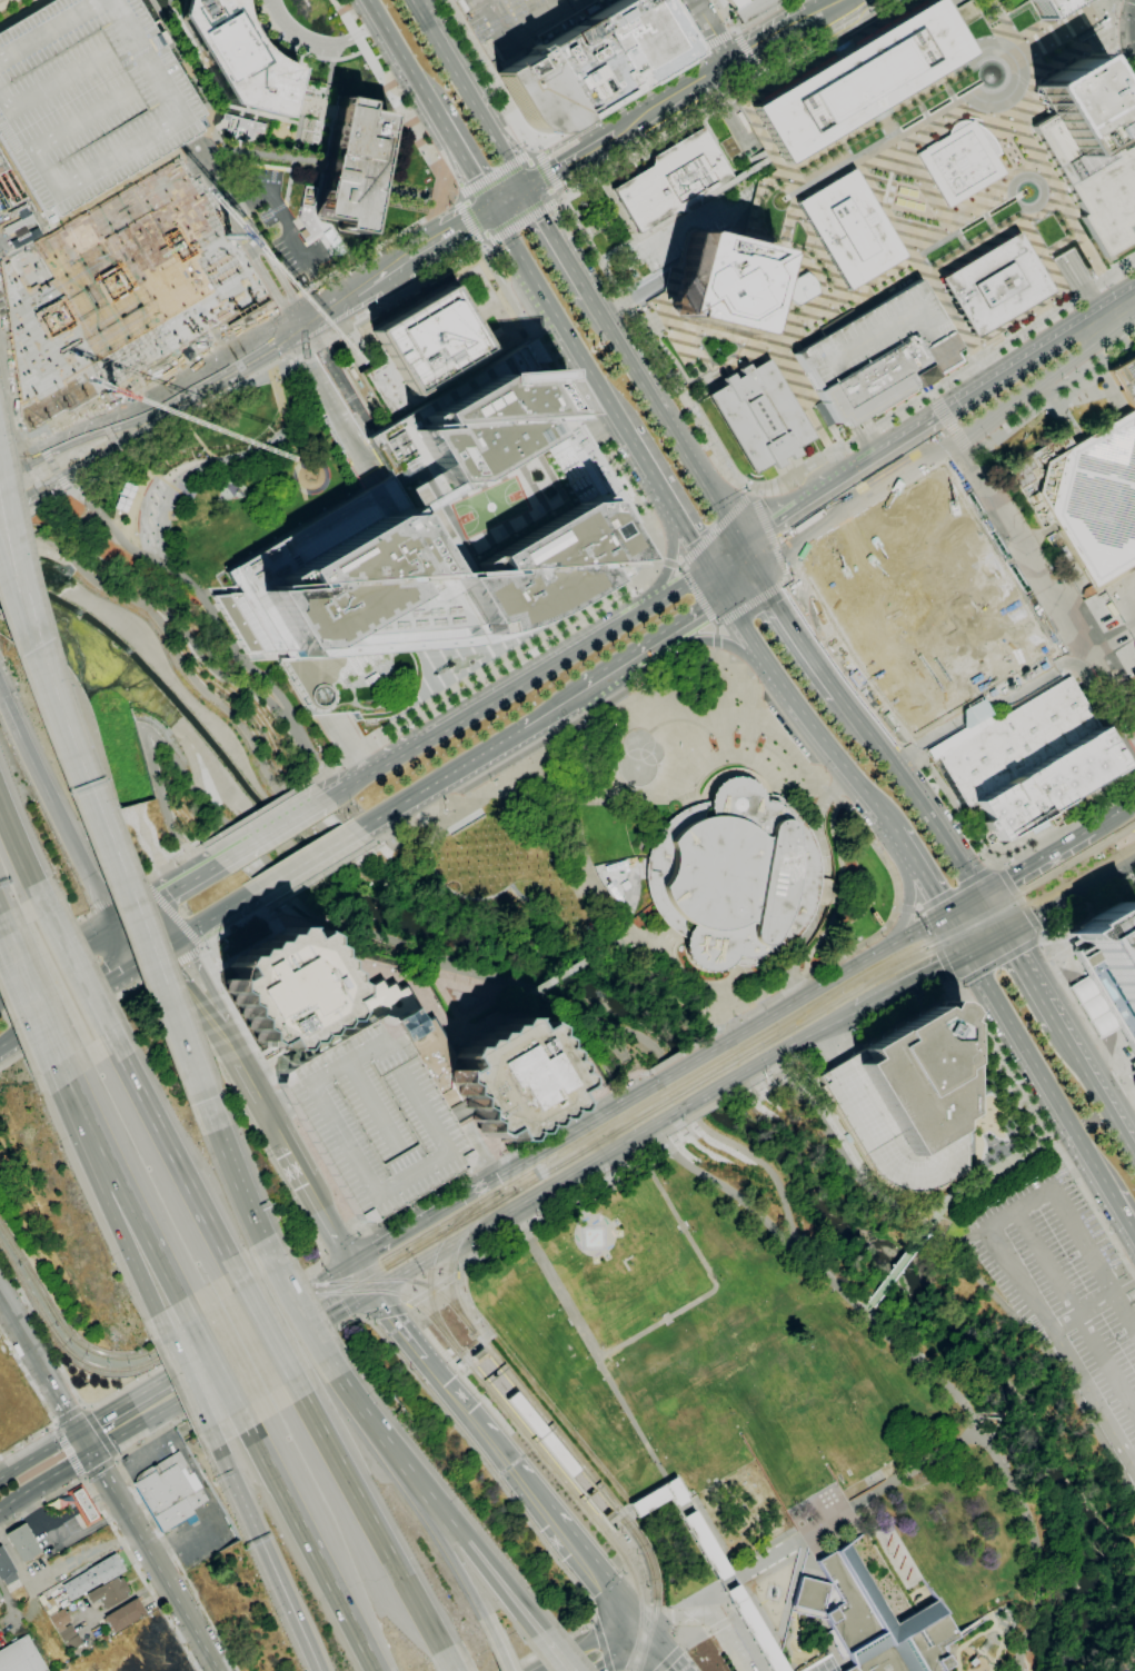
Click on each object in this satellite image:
road: (1134, 0)
road: (963, 1)
building: (736, 3)
building: (1047, 7)
building: (753, 9)
road: (826, 9)
road: (745, 22)
road: (687, 23)
parking lot: (524, 24)
road: (524, 28)
road: (258, 29)
road: (735, 30)
road: (715, 31)
road: (719, 39)
road: (773, 40)
road: (319, 41)
road: (1066, 43)
road: (1117, 44)
road: (704, 47)
road: (1115, 50)
road: (298, 51)
road: (748, 51)
building: (238, 56)
road: (401, 57)
building: (594, 63)
road: (1059, 71)
road: (765, 76)
road: (709, 77)
building: (860, 80)
road: (216, 84)
road: (474, 92)
road: (394, 97)
building: (88, 98)
parking garage: (88, 98)
road: (648, 113)
building: (250, 127)
road: (299, 127)
road: (549, 137)
road: (532, 141)
road: (1134, 143)
building: (1092, 151)
road: (203, 152)
road: (273, 155)
road: (569, 159)
road: (465, 160)
building: (959, 163)
building: (351, 165)
road: (545, 172)
road: (494, 173)
building: (671, 180)
traffic signals: (528, 186)
road: (410, 190)
road: (451, 196)
road: (510, 197)
road: (561, 198)
traffic signals: (492, 209)
road: (283, 212)
road: (468, 221)
road: (522, 221)
building: (308, 222)
road: (250, 227)
road: (421, 227)
building: (849, 229)
road: (451, 233)
road: (558, 239)
road: (469, 246)
road: (484, 248)
building: (720, 284)
building: (994, 285)
road: (359, 287)
building: (800, 289)
road: (556, 322)
flagpole: (497, 331)
road: (230, 337)
building: (424, 355)
building: (879, 356)
road: (1098, 357)
road: (228, 364)
road: (558, 368)
road: (668, 372)
road: (341, 375)
building: (1125, 380)
building: (758, 415)
road: (667, 418)
road: (96, 427)
road: (23, 434)
road: (39, 439)
road: (108, 448)
road: (2, 455)
road: (22, 462)
road: (54, 464)
road: (220, 467)
road: (781, 475)
park: (216, 486)
road: (71, 488)
road: (753, 490)
road: (39, 493)
road: (627, 496)
building: (126, 497)
road: (665, 500)
road: (47, 504)
road: (766, 505)
park: (482, 507)
road: (8, 511)
building: (1088, 524)
road: (11, 525)
road: (767, 526)
road: (10, 529)
road: (716, 529)
road: (766, 529)
building: (427, 543)
traffic signals: (744, 544)
road: (128, 547)
road: (14, 551)
road: (674, 555)
road: (658, 563)
road: (79, 564)
road: (670, 565)
traffic signals: (706, 568)
road: (771, 568)
road: (784, 570)
traffic signals: (764, 578)
road: (744, 589)
road: (698, 596)
building: (927, 596)
road: (14, 598)
traffic signals: (725, 601)
road: (753, 603)
road: (790, 619)
road: (690, 623)
road: (717, 636)
road: (717, 641)
road: (716, 649)
road: (567, 654)
road: (643, 654)
road: (247, 665)
road: (1081, 670)
road: (607, 676)
building: (1134, 676)
road: (246, 686)
road: (1, 694)
traffic signals: (2, 697)
road: (53, 703)
road: (793, 704)
road: (557, 707)
road: (975, 715)
road: (96, 729)
road: (938, 735)
road: (352, 739)
road: (256, 747)
road: (399, 753)
road: (904, 754)
road: (477, 757)
building: (1029, 762)
road: (820, 764)
road: (319, 768)
road: (828, 782)
road: (345, 784)
flagpole: (953, 784)
road: (915, 790)
road: (456, 806)
road: (389, 810)
flagpole: (445, 810)
road: (57, 812)
road: (256, 814)
road: (1114, 815)
road: (286, 819)
flagpole: (485, 825)
flagpole: (474, 826)
flagpole: (495, 833)
railway: (1131, 833)
flagpole: (485, 834)
flagpole: (475, 835)
flagpole: (466, 836)
flagpole: (455, 837)
road: (896, 838)
road: (389, 841)
flagpole: (506, 842)
flagpole: (487, 844)
flagpole: (495, 844)
flagpole: (475, 845)
flagpole: (466, 846)
flagpole: (439, 847)
flagpole: (446, 847)
flagpole: (455, 847)
road: (239, 848)
flagpole: (516, 851)
flagpole: (507, 852)
flagpole: (497, 853)
flagpole: (487, 854)
flagpole: (476, 855)
flagpole: (457, 856)
flagpole: (467, 856)
flagpole: (439, 857)
flagpole: (447, 857)
flagpole: (547, 857)
road: (22, 858)
flagpole: (537, 858)
flagpole: (528, 859)
road: (1038, 859)
road: (307, 861)
flagpole: (518, 861)
flagpole: (507, 862)
road: (1004, 862)
flagpole: (498, 863)
flagpole: (488, 864)
flagpole: (479, 865)
road: (997, 865)
road: (167, 866)
flagpole: (449, 866)
flagpole: (468, 866)
flagpole: (439, 867)
flagpole: (458, 867)
flagpole: (547, 867)
flagpole: (528, 869)
flagpole: (538, 869)
flagpole: (508, 872)
flagpole: (518, 872)
flagpole: (498, 873)
road: (321, 874)
flagpole: (489, 874)
building: (735, 874)
flagpole: (479, 875)
flagpole: (469, 876)
flagpole: (459, 877)
flagpole: (559, 877)
flagpole: (539, 878)
flagpole: (549, 878)
road: (146, 881)
flagpole: (510, 881)
road: (922, 881)
flagpole: (499, 883)
flagpole: (489, 884)
flagpole: (480, 885)
flagpole: (469, 886)
flagpole: (560, 887)
building: (616, 887)
road: (130, 888)
road: (170, 888)
road: (840, 888)
road: (956, 888)
flagpole: (550, 889)
traffic signals: (985, 893)
flagpole: (571, 896)
road: (1072, 896)
flagpole: (551, 897)
flagpole: (561, 897)
road: (1018, 897)
road: (909, 901)
road: (609, 903)
road: (103, 905)
flagpole: (562, 906)
flagpole: (571, 906)
road: (898, 907)
road: (909, 909)
road: (996, 911)
road: (173, 915)
flagpole: (562, 917)
flagpole: (573, 917)
traffic signals: (944, 917)
road: (211, 921)
road: (934, 922)
traffic signals: (117, 924)
flagpole: (584, 925)
flagpole: (574, 927)
traffic signals: (1008, 931)
road: (1043, 932)
road: (1, 933)
road: (142, 933)
road: (954, 935)
flagpole: (585, 936)
flagpole: (575, 937)
road: (138, 938)
railway: (933, 938)
road: (1042, 938)
road: (43, 941)
road: (986, 942)
road: (935, 946)
road: (201, 947)
road: (605, 947)
railway: (933, 948)
traffic signals: (160, 953)
traffic signals: (965, 954)
road: (182, 959)
road: (999, 961)
road: (58, 962)
road: (1061, 969)
road: (163, 971)
road: (462, 971)
road: (77, 972)
building: (1108, 973)
road: (122, 975)
road: (1036, 976)
road: (207, 981)
road: (793, 982)
road: (910, 982)
road: (954, 982)
road: (547, 983)
road: (960, 984)
flagpole: (1068, 988)
road: (190, 989)
building: (288, 991)
road: (802, 997)
road: (30, 999)
road: (469, 1001)
road: (508, 1006)
road: (436, 1008)
railway: (802, 1016)
road: (50, 1017)
building: (405, 1024)
river: (654, 1026)
road: (987, 1032)
road: (200, 1034)
road: (600, 1037)
flagpole: (1099, 1041)
road: (8, 1042)
road: (799, 1042)
road: (229, 1043)
road: (650, 1045)
park: (675, 1050)
road: (681, 1053)
flagpole: (583, 1058)
road: (690, 1063)
building: (437, 1068)
flagpole: (591, 1072)
building: (1133, 1072)
road: (63, 1073)
railway: (698, 1073)
road: (1037, 1074)
road: (776, 1075)
building: (509, 1080)
railway: (703, 1081)
road: (731, 1081)
road: (780, 1081)
road: (1098, 1083)
road: (252, 1085)
flagpole: (600, 1085)
building: (1134, 1088)
road: (709, 1092)
road: (744, 1096)
road: (968, 1098)
building: (907, 1100)
road: (748, 1101)
road: (716, 1102)
building: (372, 1118)
parking lot: (372, 1118)
road: (698, 1121)
road: (688, 1127)
road: (703, 1127)
road: (671, 1128)
road: (677, 1133)
road: (693, 1134)
railway: (583, 1141)
road: (666, 1141)
road: (681, 1141)
road: (287, 1145)
railway: (593, 1145)
road: (548, 1147)
road: (671, 1147)
road: (170, 1150)
road: (982, 1172)
road: (235, 1174)
road: (718, 1185)
road: (125, 1190)
road: (541, 1190)
road: (316, 1196)
road: (104, 1201)
road: (338, 1203)
road: (1122, 1217)
road: (418, 1224)
road: (926, 1230)
road: (514, 1231)
road: (358, 1233)
road: (338, 1236)
road: (613, 1240)
road: (601, 1246)
road: (341, 1247)
road: (376, 1247)
railway: (455, 1250)
traffic signals: (352, 1261)
railway: (432, 1261)
road: (327, 1262)
road: (325, 1265)
road: (970, 1265)
road: (1013, 1266)
road: (896, 1269)
road: (315, 1271)
road: (461, 1272)
road: (362, 1275)
railway: (408, 1280)
road: (711, 1280)
road: (389, 1281)
road: (1124, 1286)
road: (344, 1290)
road: (431, 1290)
parking lot: (1067, 1290)
traffic signals: (371, 1292)
railway: (402, 1295)
road: (866, 1307)
railway: (222, 1309)
road: (1076, 1310)
road: (1124, 1311)
road: (1082, 1312)
road: (299, 1313)
road: (387, 1313)
railway: (232, 1314)
road: (360, 1316)
road: (261, 1317)
road: (368, 1319)
road: (341, 1325)
road: (397, 1325)
road: (306, 1329)
road: (267, 1332)
road: (23, 1335)
building: (477, 1354)
railway: (489, 1356)
road: (595, 1357)
road: (215, 1363)
building: (459, 1364)
road: (187, 1380)
road: (121, 1389)
road: (454, 1393)
road: (62, 1403)
road: (125, 1403)
road: (43, 1404)
road: (81, 1408)
road: (86, 1409)
road: (166, 1409)
road: (362, 1410)
road: (68, 1414)
road: (56, 1422)
road: (56, 1424)
traffic signals: (78, 1431)
road: (100, 1433)
road: (84, 1441)
building: (552, 1445)
road: (68, 1451)
traffic signals: (91, 1452)
road: (38, 1454)
road: (117, 1456)
road: (116, 1460)
road: (100, 1469)
road: (100, 1469)
road: (82, 1478)
road: (44, 1479)
road: (86, 1479)
road: (107, 1481)
railway: (601, 1486)
building: (170, 1492)
road: (238, 1492)
railway: (581, 1499)
building: (83, 1504)
road: (681, 1504)
road: (544, 1508)
road: (830, 1520)
road: (116, 1531)
road: (377, 1532)
road: (470, 1532)
road: (66, 1539)
road: (460, 1539)
building: (23, 1543)
road: (444, 1543)
road: (311, 1550)
building: (714, 1565)
building: (6, 1568)
building: (93, 1575)
road: (171, 1590)
building: (109, 1592)
building: (0, 1598)
road: (789, 1598)
road: (616, 1602)
road: (289, 1603)
building: (125, 1615)
road: (706, 1615)
road: (737, 1615)
traffic signals: (625, 1618)
road: (630, 1619)
building: (872, 1620)
traffic signals: (637, 1621)
road: (595, 1622)
road: (719, 1625)
road: (755, 1627)
building: (64, 1629)
road: (695, 1639)
road: (663, 1643)
road: (585, 1644)
traffic signals: (631, 1645)
road: (603, 1647)
road: (633, 1647)
road: (564, 1649)
road: (625, 1651)
road: (546, 1653)
building: (20, 1657)
road: (502, 1658)
road: (670, 1660)
road: (452, 1670)

